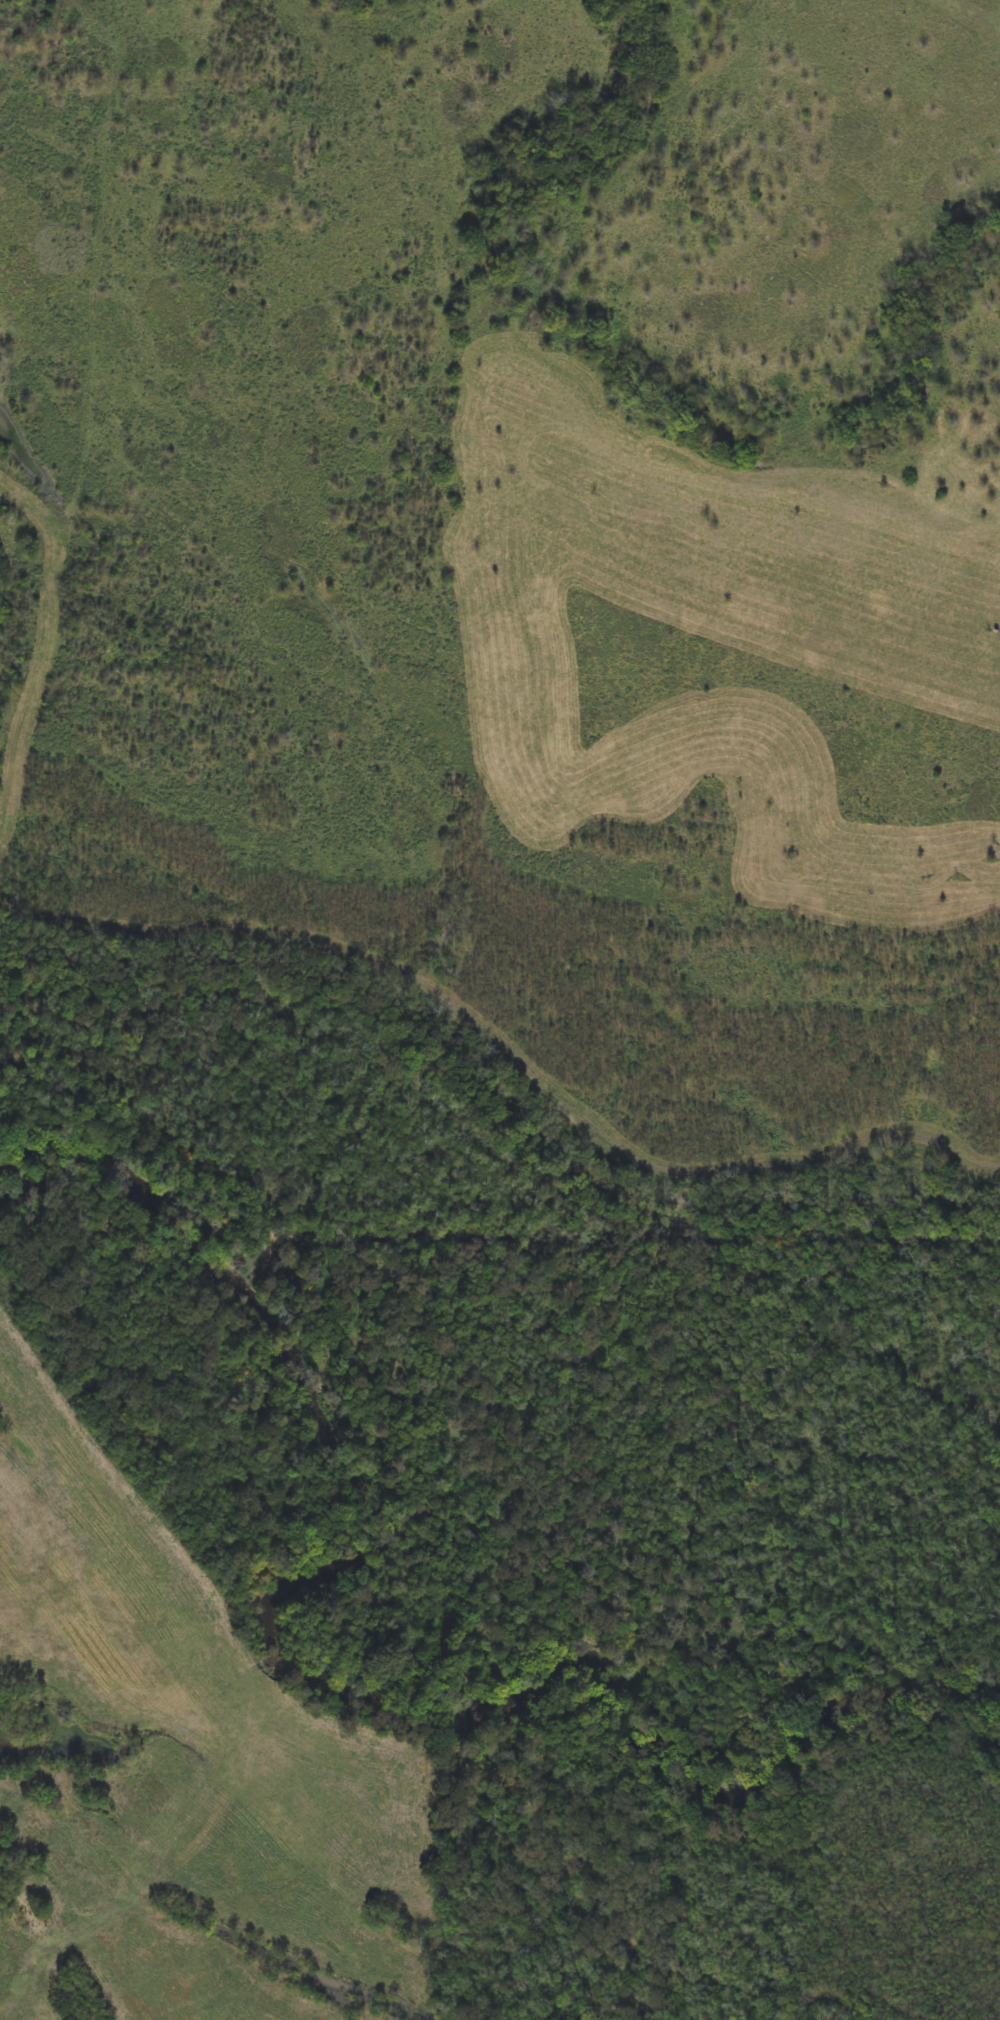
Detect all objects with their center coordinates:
river: (310, 1681)

